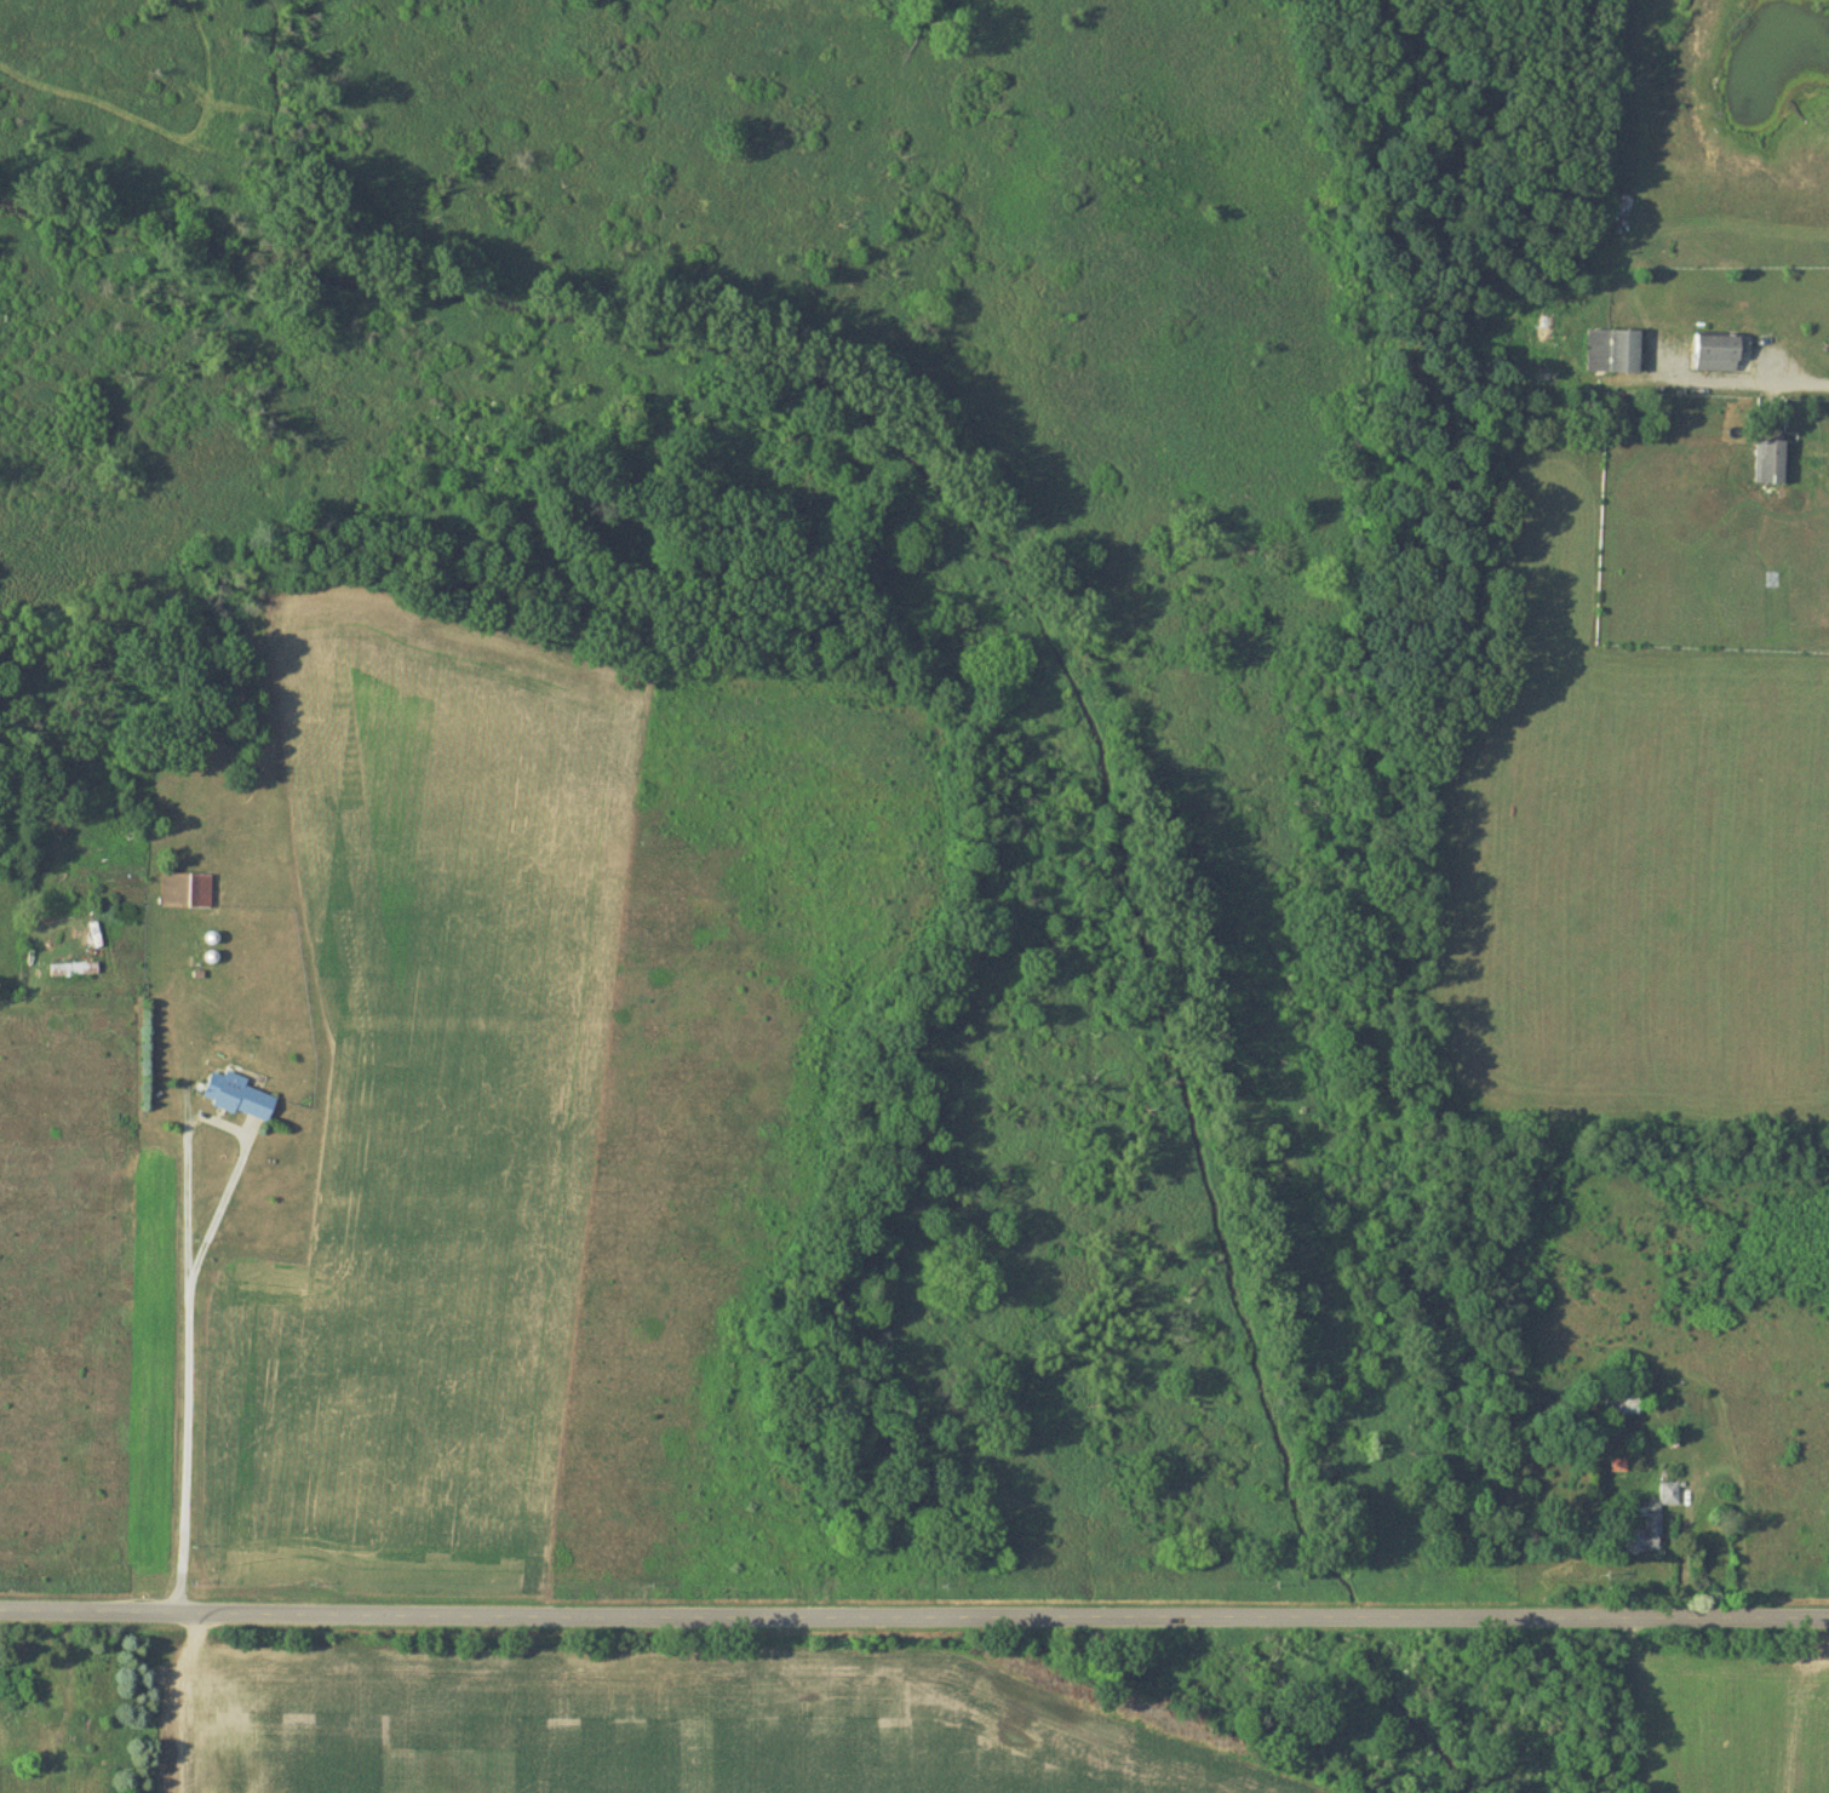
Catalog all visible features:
building: (1612, 350)
building: (1716, 351)
road: (1808, 377)
building: (1770, 460)
building: (73, 969)
road: (179, 1009)
building: (236, 1095)
road: (225, 1186)
road: (187, 1348)
building: (1652, 1522)
road: (913, 1609)
building: (17, 1678)

